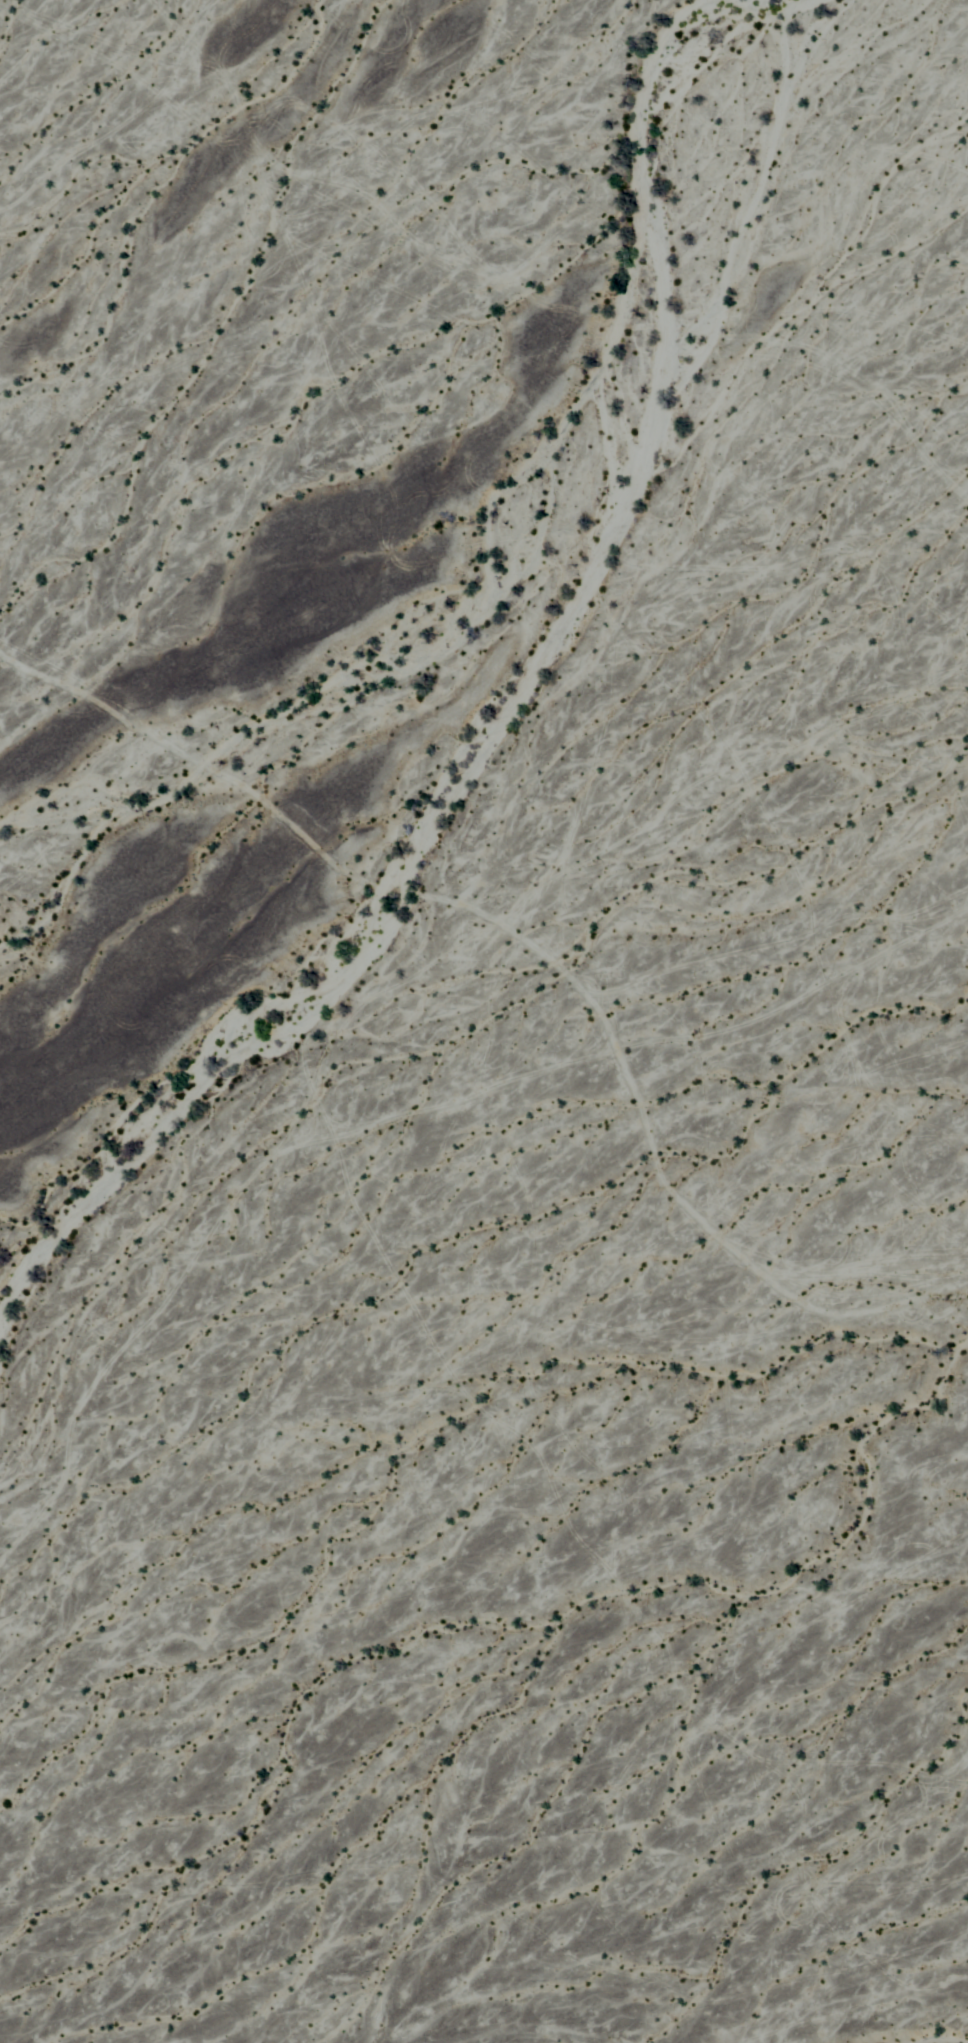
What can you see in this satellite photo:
road: (542, 959)
road: (184, 1226)

